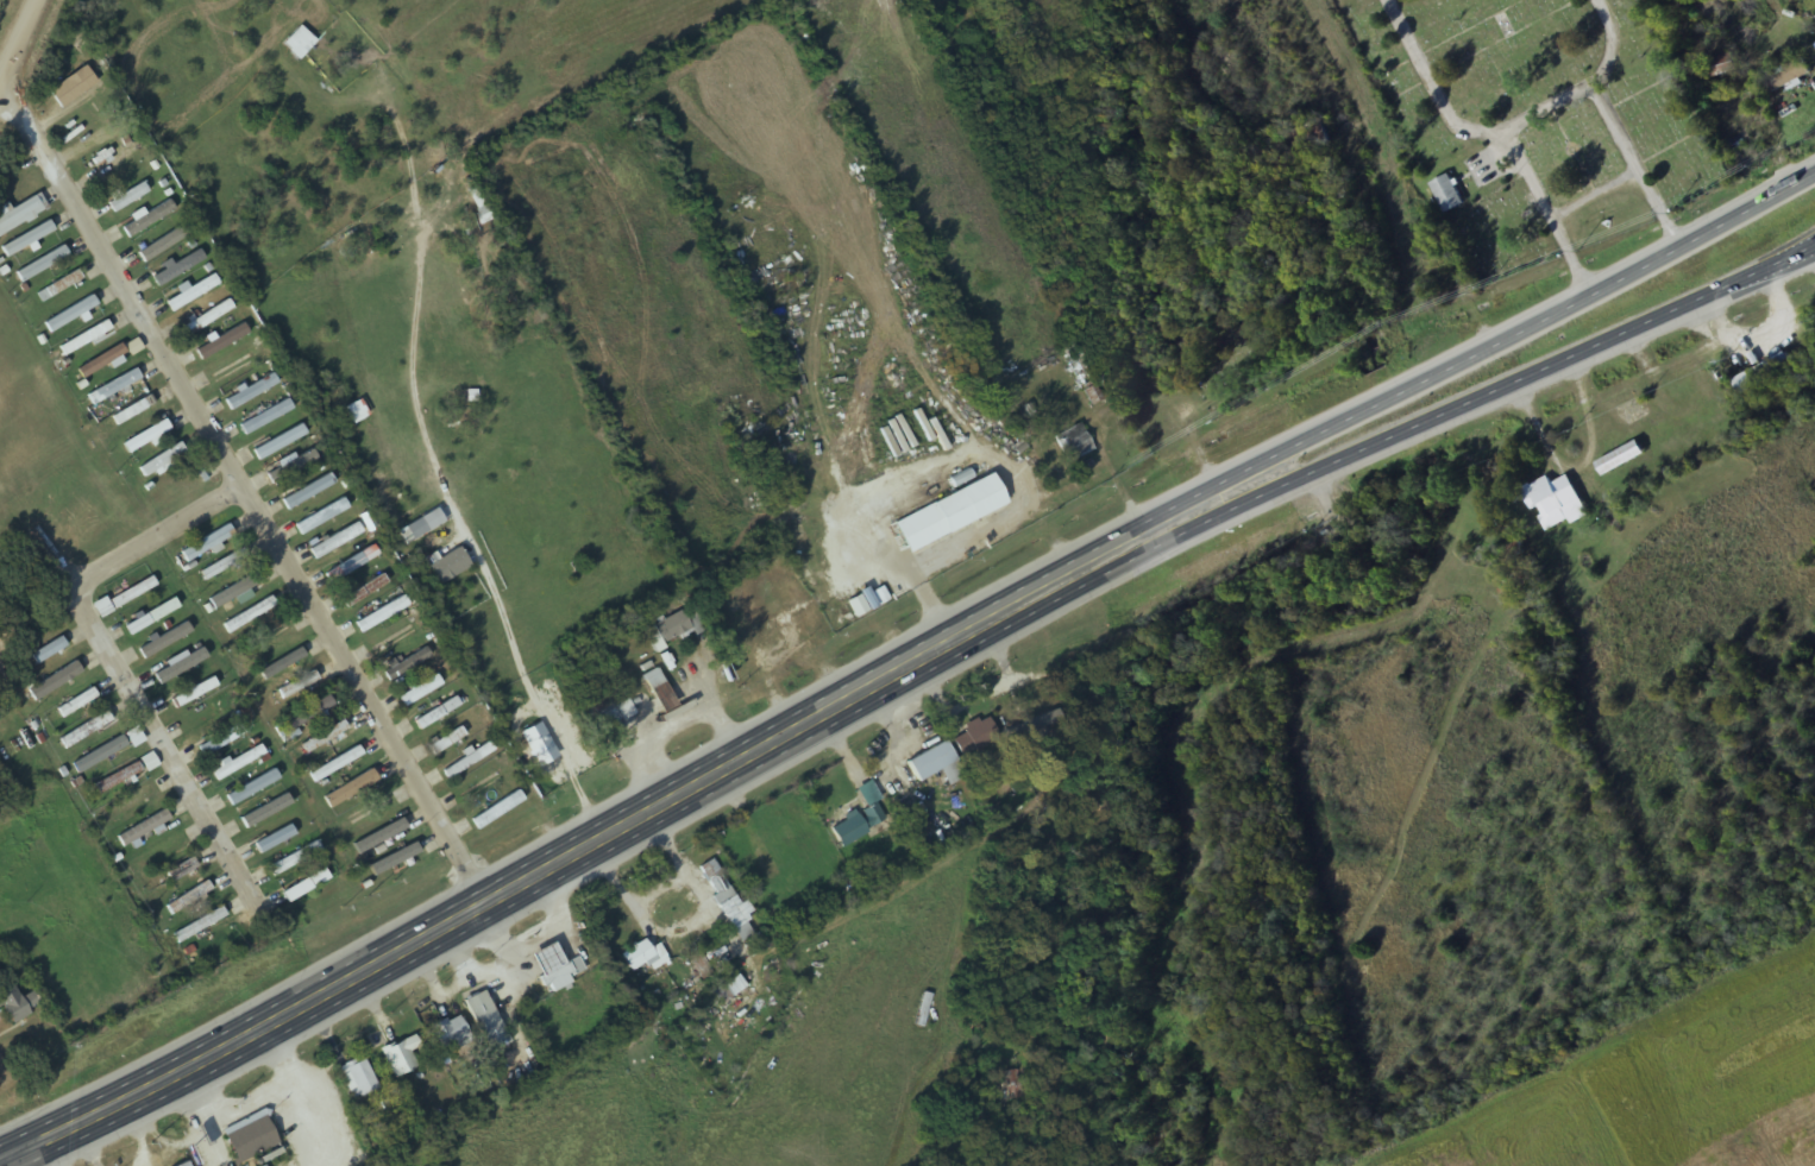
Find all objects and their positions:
road: (18, 40)
road: (1612, 43)
building: (1784, 76)
road: (1431, 84)
road: (1544, 107)
park: (1534, 119)
building: (1446, 194)
road: (1593, 195)
building: (127, 196)
building: (20, 213)
building: (149, 219)
building: (27, 239)
building: (42, 264)
building: (177, 266)
building: (63, 284)
building: (191, 292)
building: (70, 314)
building: (207, 317)
building: (84, 338)
road: (1499, 340)
building: (220, 341)
building: (99, 363)
building: (234, 366)
building: (1763, 374)
building: (113, 386)
road: (1501, 389)
building: (133, 410)
building: (241, 412)
building: (145, 436)
building: (1073, 441)
building: (278, 442)
building: (1619, 458)
building: (162, 461)
building: (289, 467)
road: (252, 485)
building: (308, 492)
building: (1553, 502)
building: (949, 512)
building: (321, 517)
building: (335, 541)
building: (207, 543)
building: (351, 565)
building: (218, 567)
building: (234, 591)
building: (364, 591)
building: (404, 594)
building: (101, 607)
building: (249, 614)
building: (150, 616)
building: (378, 616)
building: (672, 628)
building: (163, 639)
building: (48, 650)
road: (113, 656)
building: (407, 662)
building: (180, 666)
building: (277, 666)
building: (54, 681)
building: (297, 686)
building: (659, 689)
building: (420, 691)
building: (193, 693)
building: (76, 702)
building: (1028, 702)
building: (618, 710)
building: (437, 713)
building: (306, 714)
building: (84, 730)
building: (324, 736)
building: (133, 737)
building: (972, 737)
building: (220, 739)
building: (446, 740)
building: (99, 754)
building: (467, 761)
building: (149, 762)
building: (237, 762)
building: (935, 763)
building: (335, 764)
building: (251, 787)
building: (350, 788)
building: (127, 802)
building: (370, 809)
building: (497, 811)
building: (265, 813)
building: (858, 824)
building: (143, 828)
building: (384, 833)
road: (594, 843)
building: (157, 852)
building: (293, 858)
road: (881, 859)
building: (181, 870)
building: (303, 885)
building: (188, 897)
building: (728, 902)
building: (199, 925)
building: (643, 956)
building: (555, 968)
building: (728, 989)
building: (15, 1003)
building: (486, 1021)
building: (450, 1033)
building: (400, 1055)
building: (358, 1078)
building: (250, 1139)
road: (39, 1153)
building: (183, 1164)

